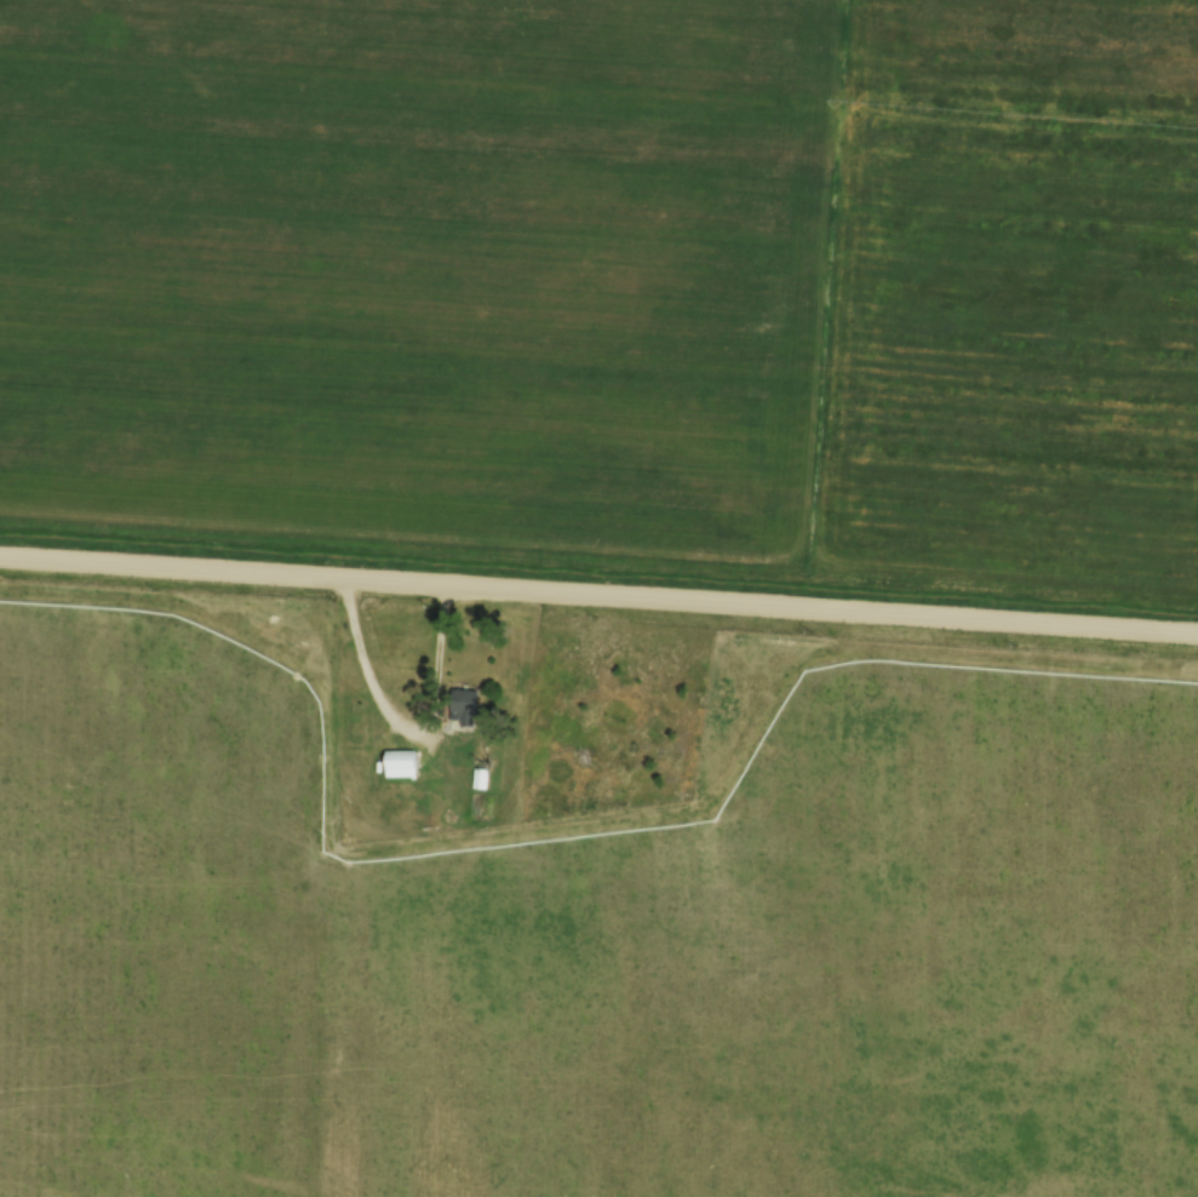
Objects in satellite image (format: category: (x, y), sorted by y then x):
road: (598, 596)
road: (412, 726)
building: (399, 762)

